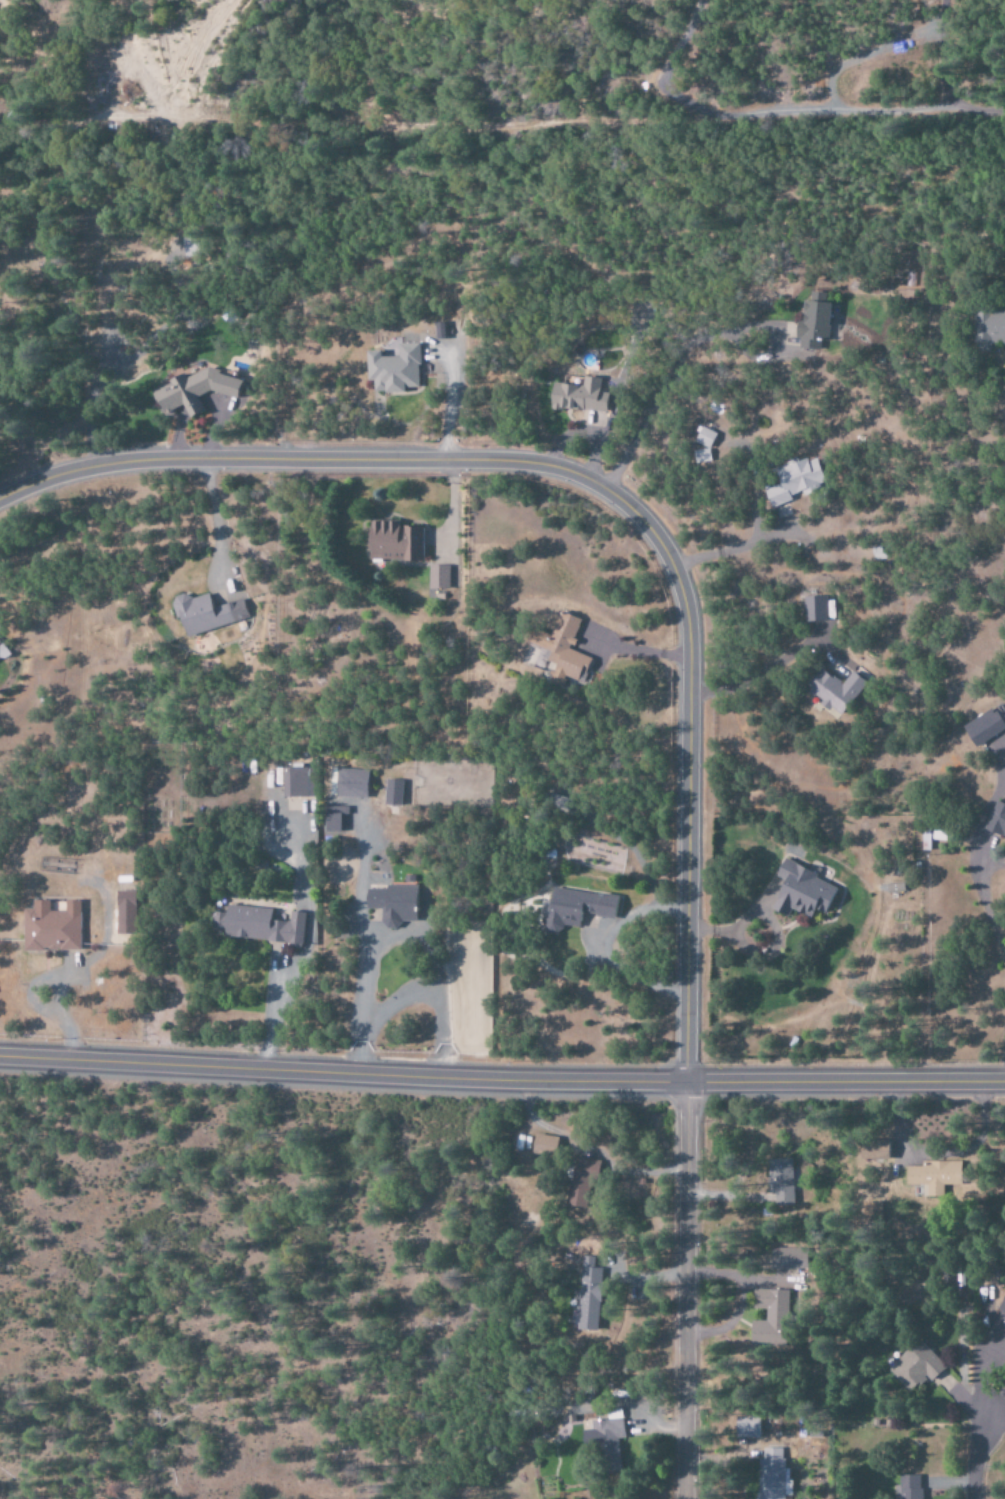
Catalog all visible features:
road: (979, 110)
building: (811, 325)
building: (988, 328)
building: (392, 369)
building: (193, 390)
building: (577, 396)
building: (703, 437)
building: (701, 456)
building: (794, 481)
road: (607, 491)
building: (393, 542)
building: (436, 578)
building: (814, 608)
building: (205, 614)
building: (560, 649)
building: (2, 652)
building: (833, 690)
building: (982, 727)
building: (293, 782)
building: (350, 784)
building: (391, 793)
building: (331, 818)
building: (996, 821)
building: (800, 892)
building: (123, 897)
building: (392, 904)
building: (574, 908)
building: (256, 925)
building: (50, 927)
road: (502, 1079)
building: (543, 1145)
building: (873, 1148)
building: (933, 1174)
building: (779, 1181)
building: (577, 1183)
building: (787, 1258)
road: (685, 1291)
building: (588, 1298)
building: (768, 1317)
building: (914, 1366)
building: (747, 1427)
building: (607, 1440)
road: (972, 1450)
building: (771, 1475)
building: (908, 1486)

